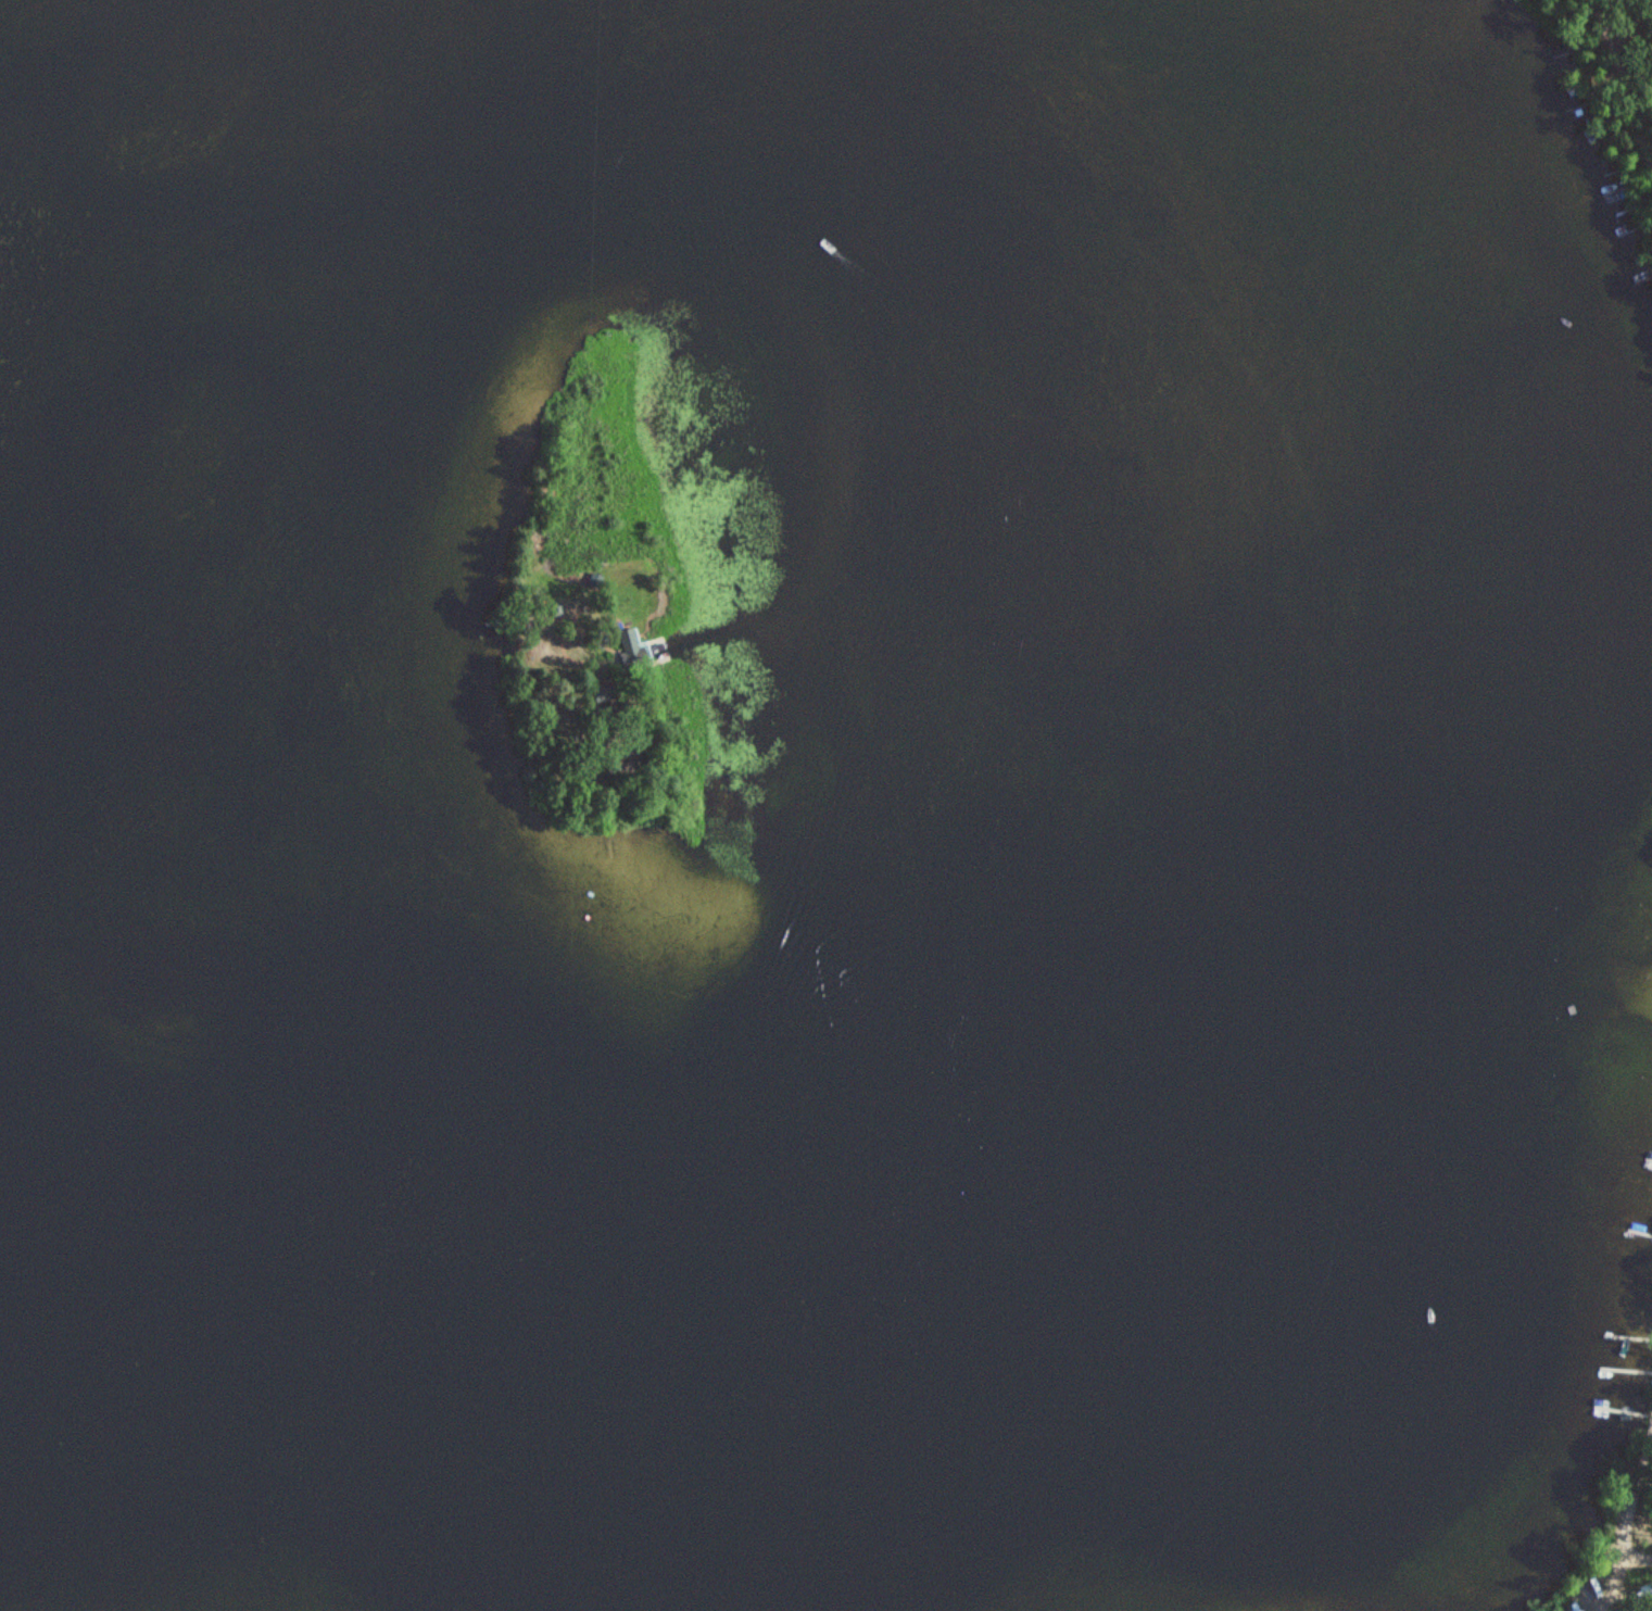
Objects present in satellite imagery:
road: (1628, 70)

